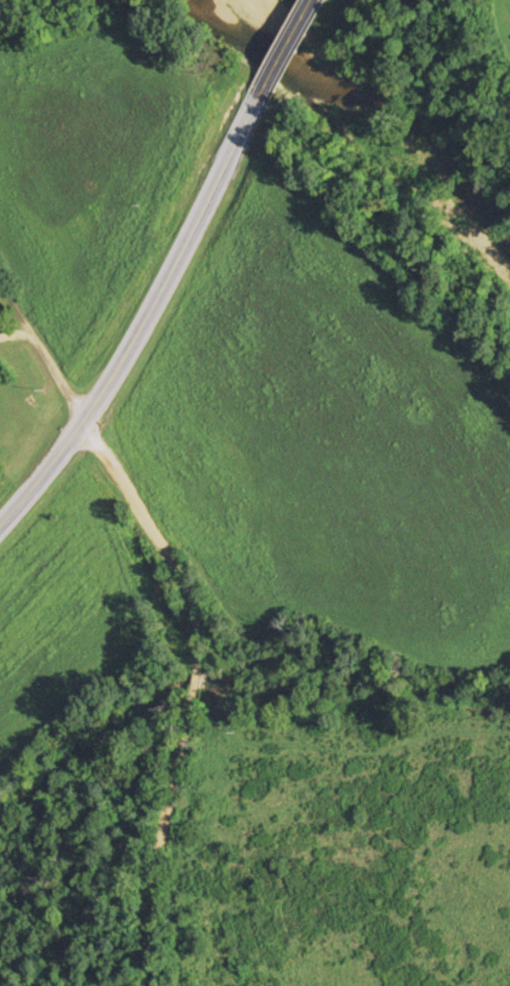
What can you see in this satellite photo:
river: (377, 101)
road: (171, 275)
road: (117, 466)
road: (142, 819)

